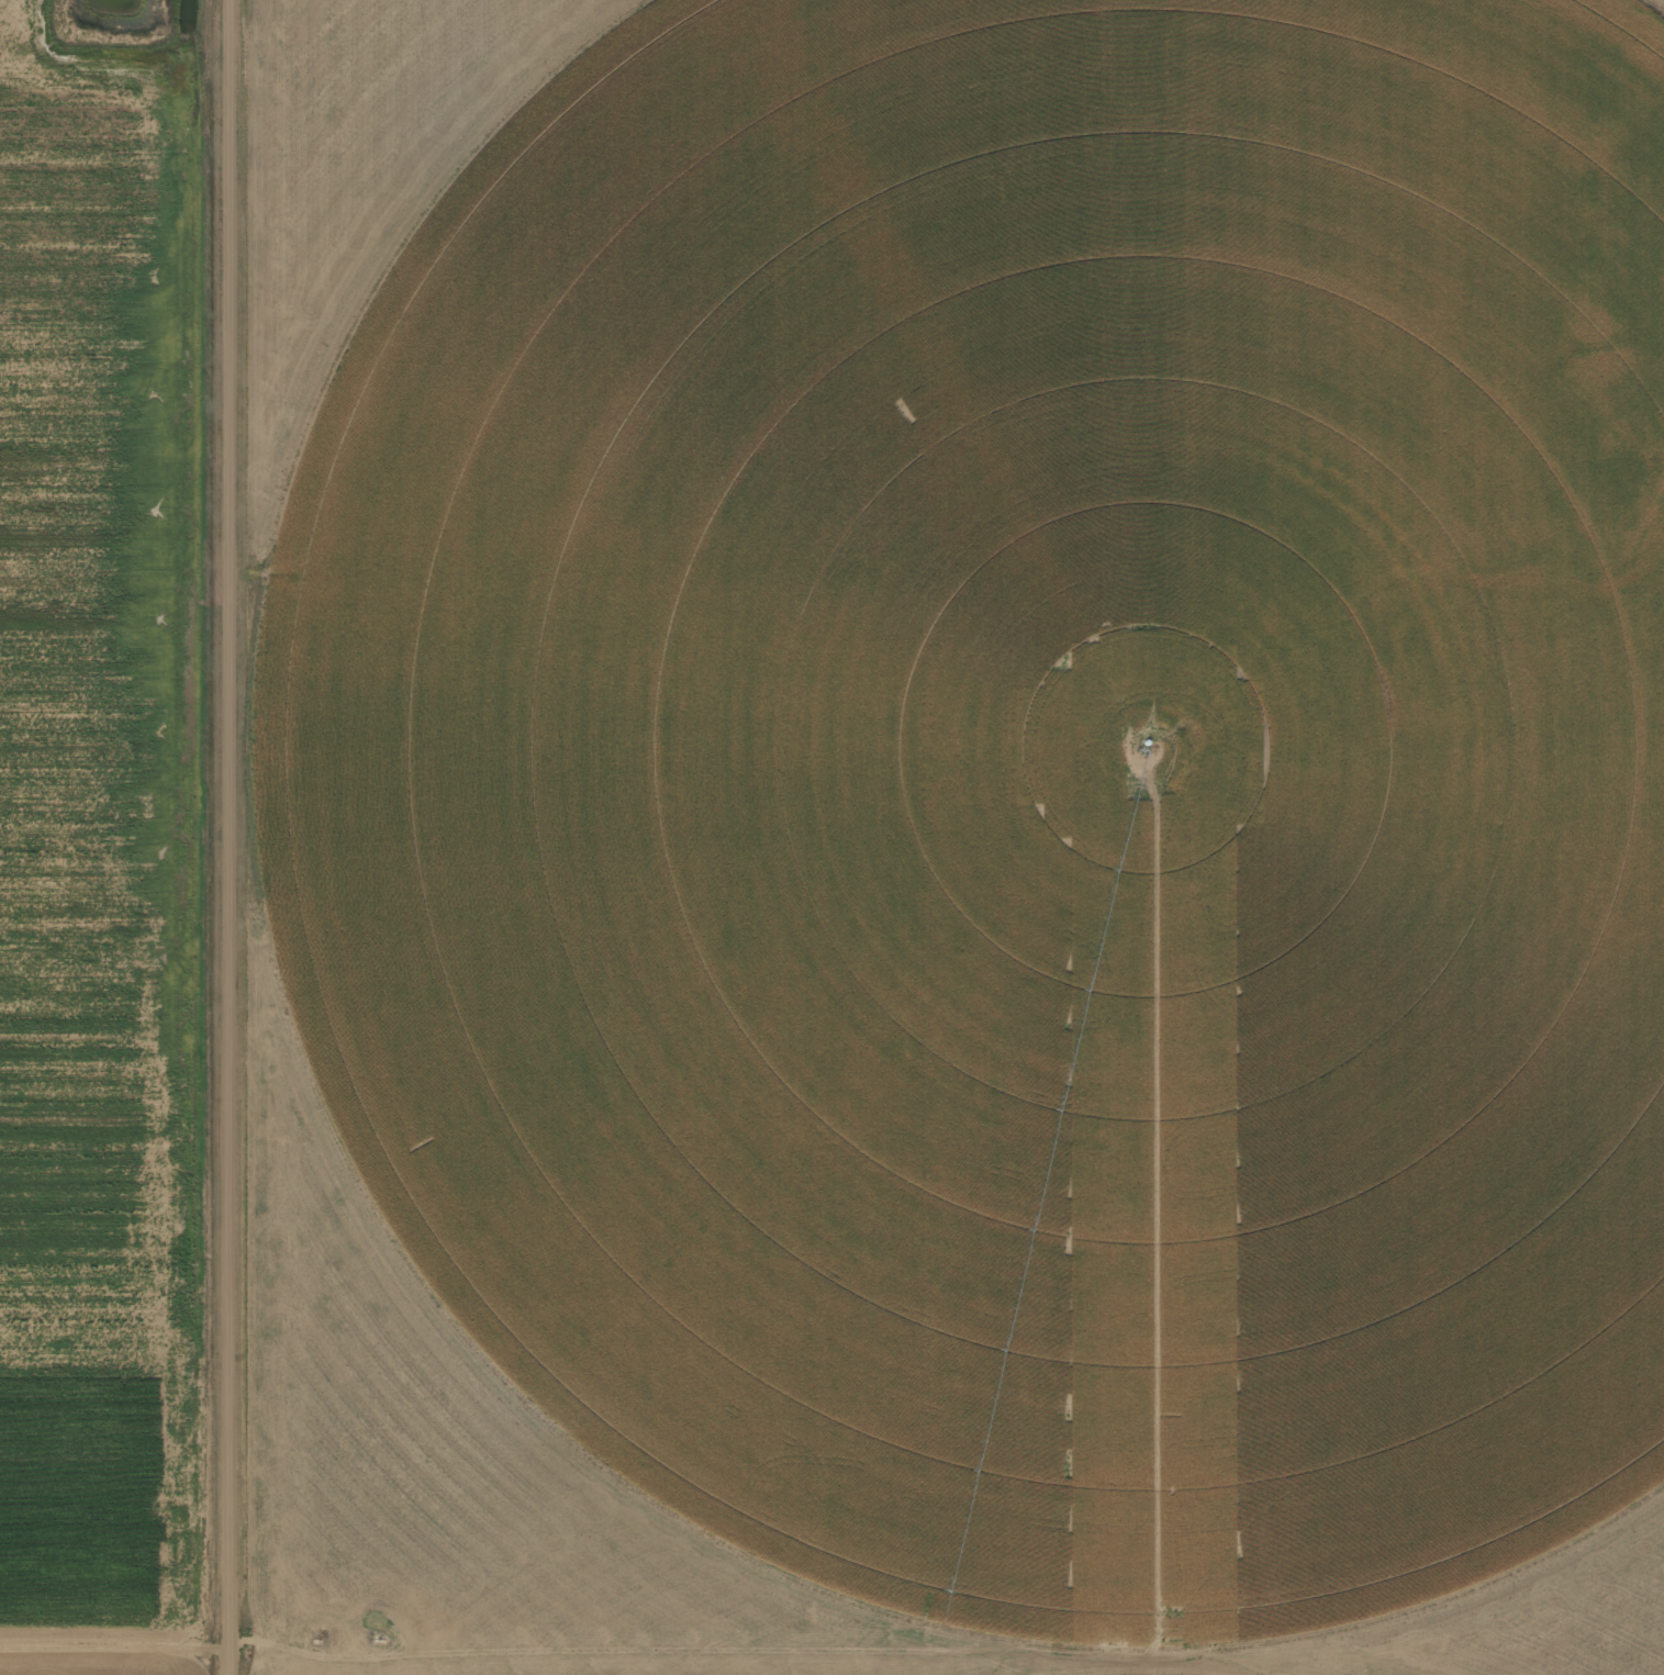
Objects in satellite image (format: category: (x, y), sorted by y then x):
road: (233, 837)

